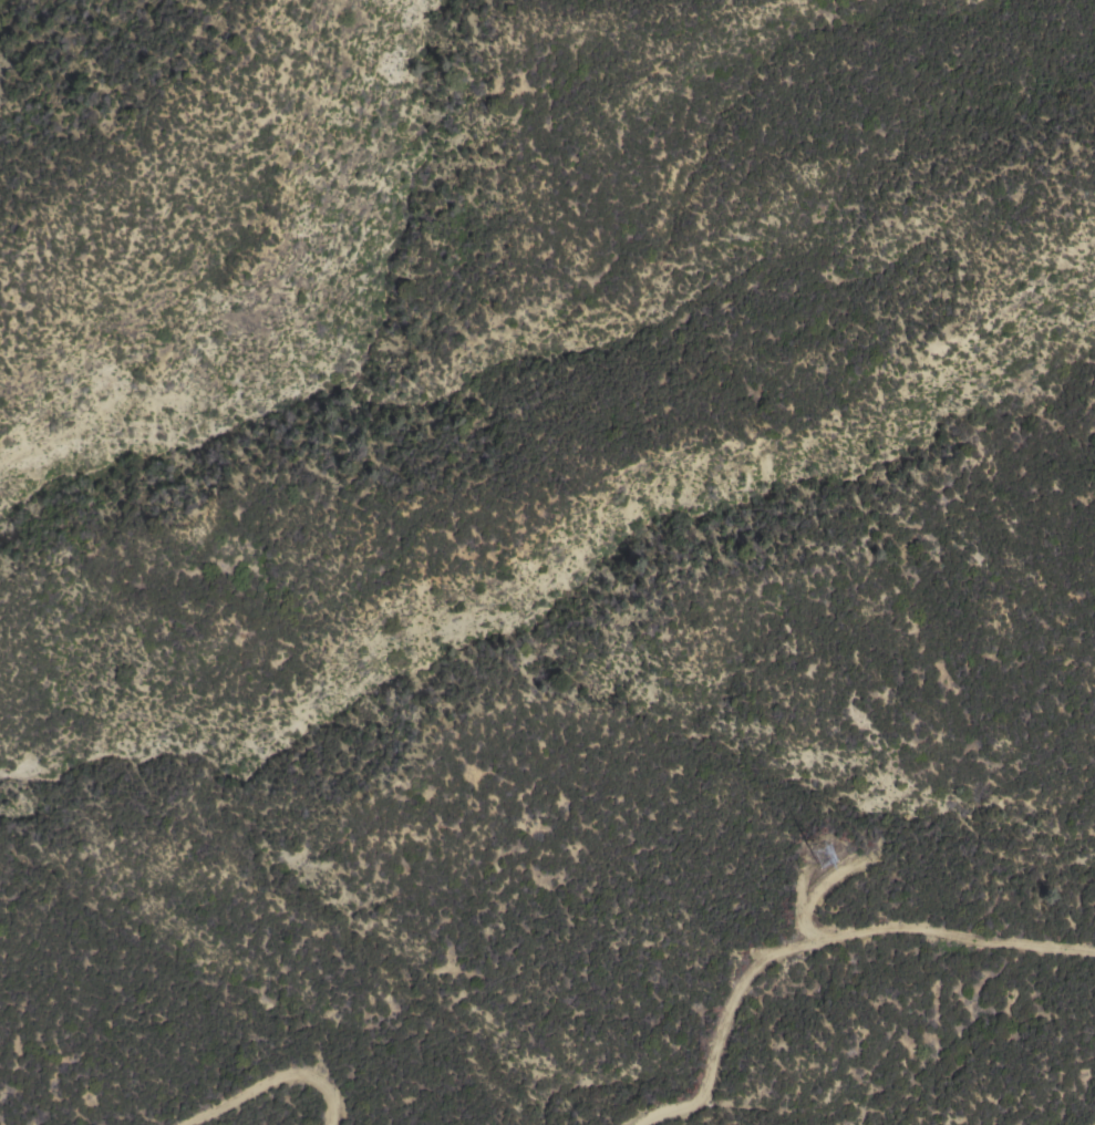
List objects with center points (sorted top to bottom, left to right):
power tower: (823, 857)

